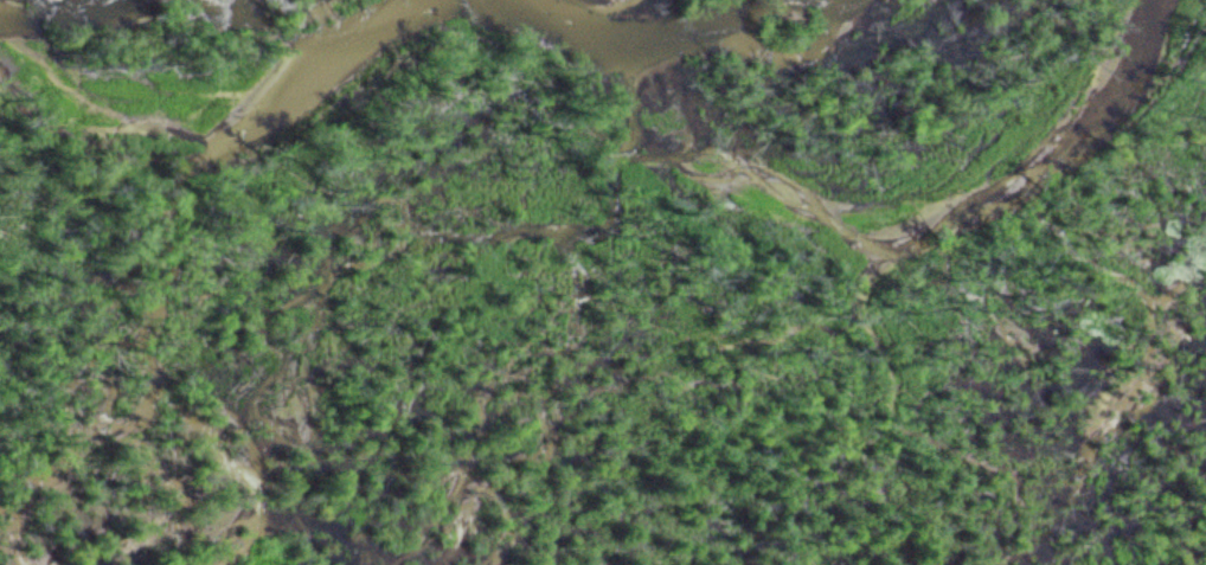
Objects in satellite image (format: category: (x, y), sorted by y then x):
river: (218, 108)
river: (867, 213)

